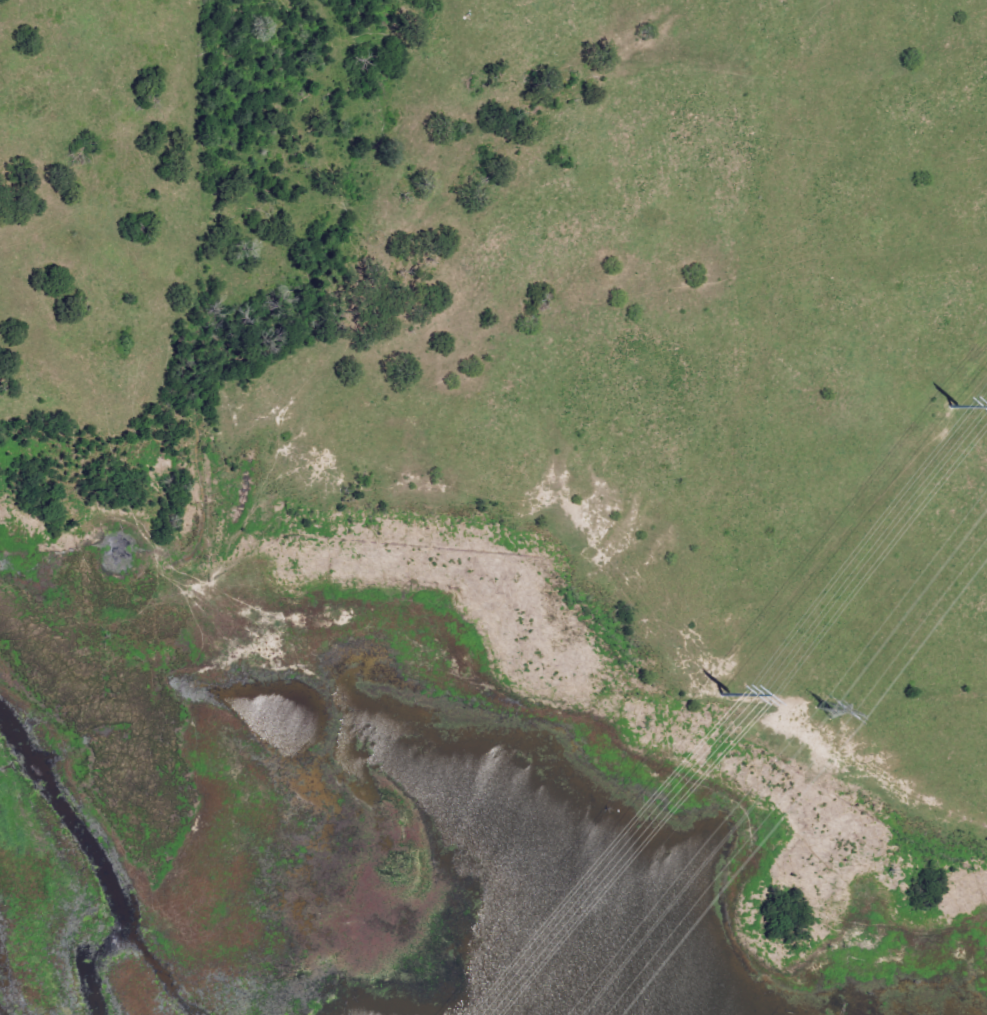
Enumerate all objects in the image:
power tower: (822, 711)

